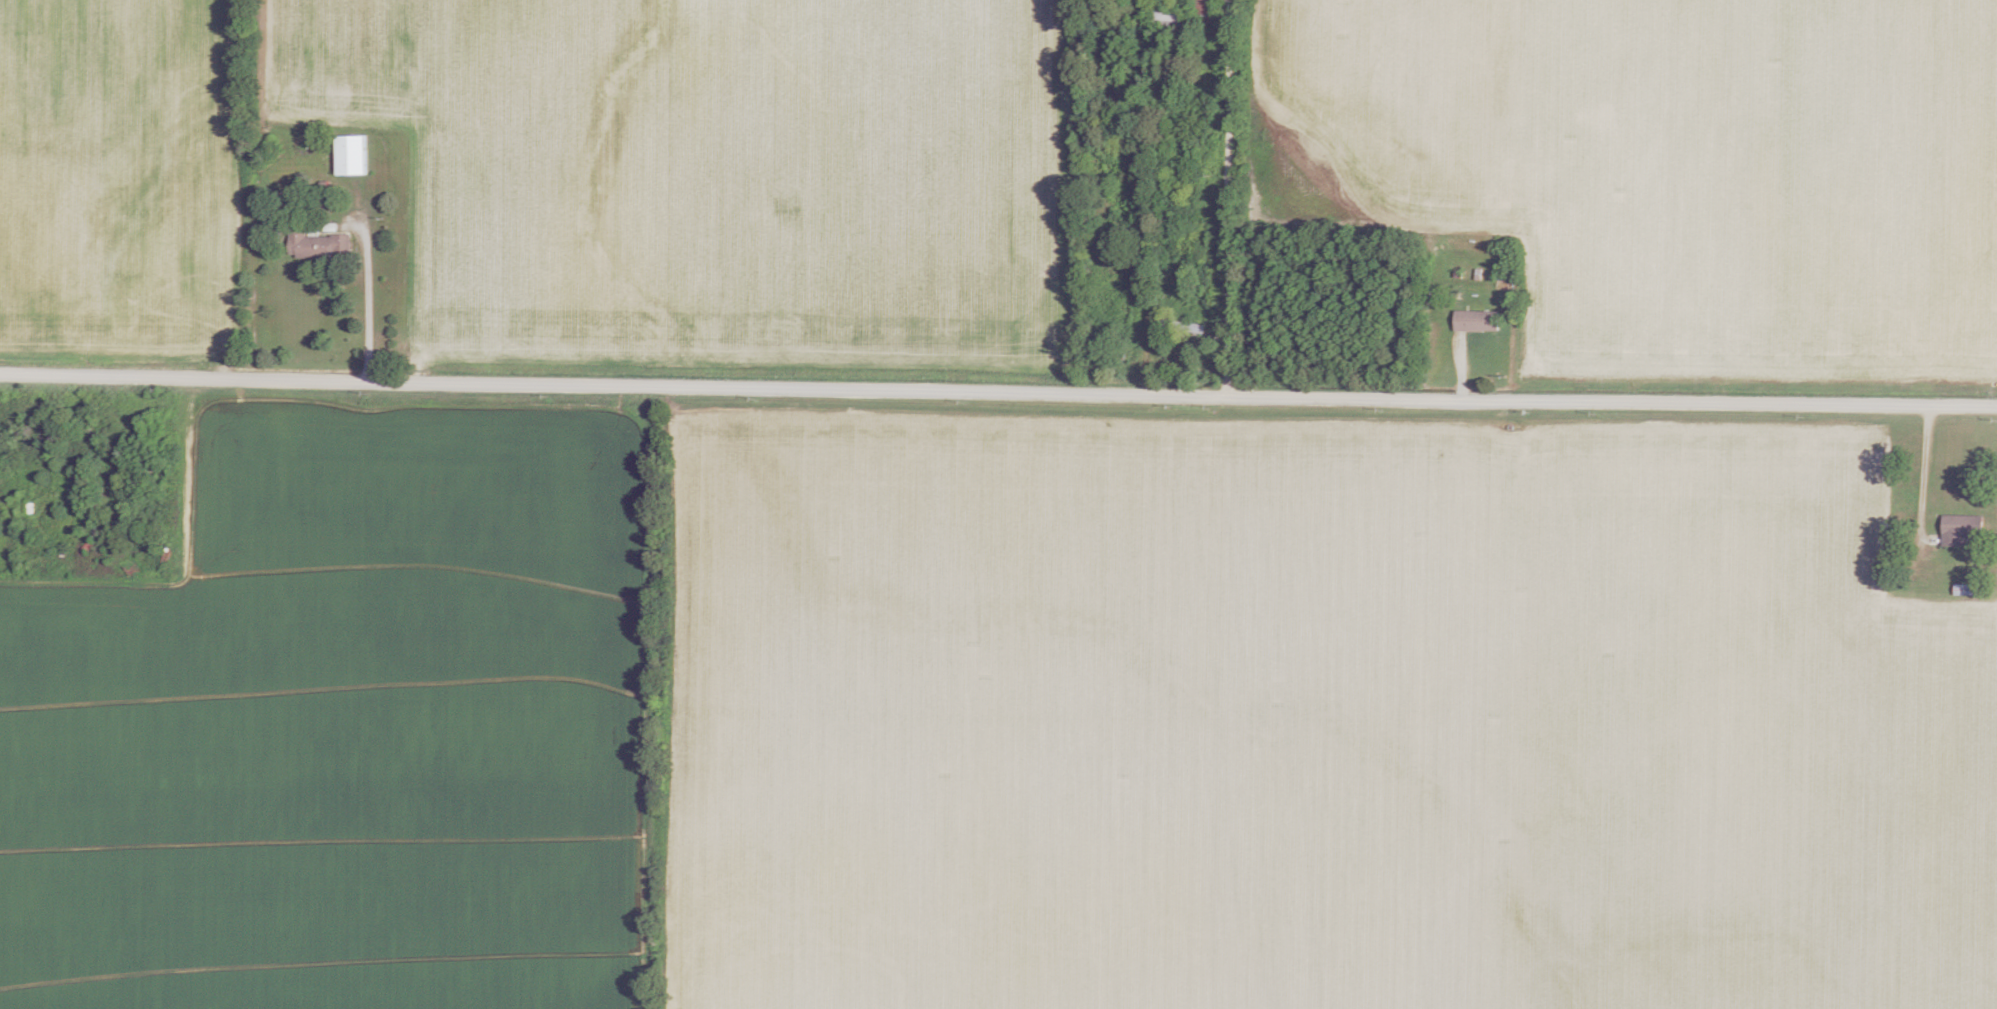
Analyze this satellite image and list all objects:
building: (1201, 7)
building: (1165, 17)
building: (1116, 92)
building: (348, 155)
road: (1229, 197)
building: (316, 245)
road: (371, 292)
road: (1149, 315)
building: (1474, 321)
building: (1179, 325)
road: (998, 391)
road: (1926, 469)
building: (27, 510)
building: (1958, 529)

